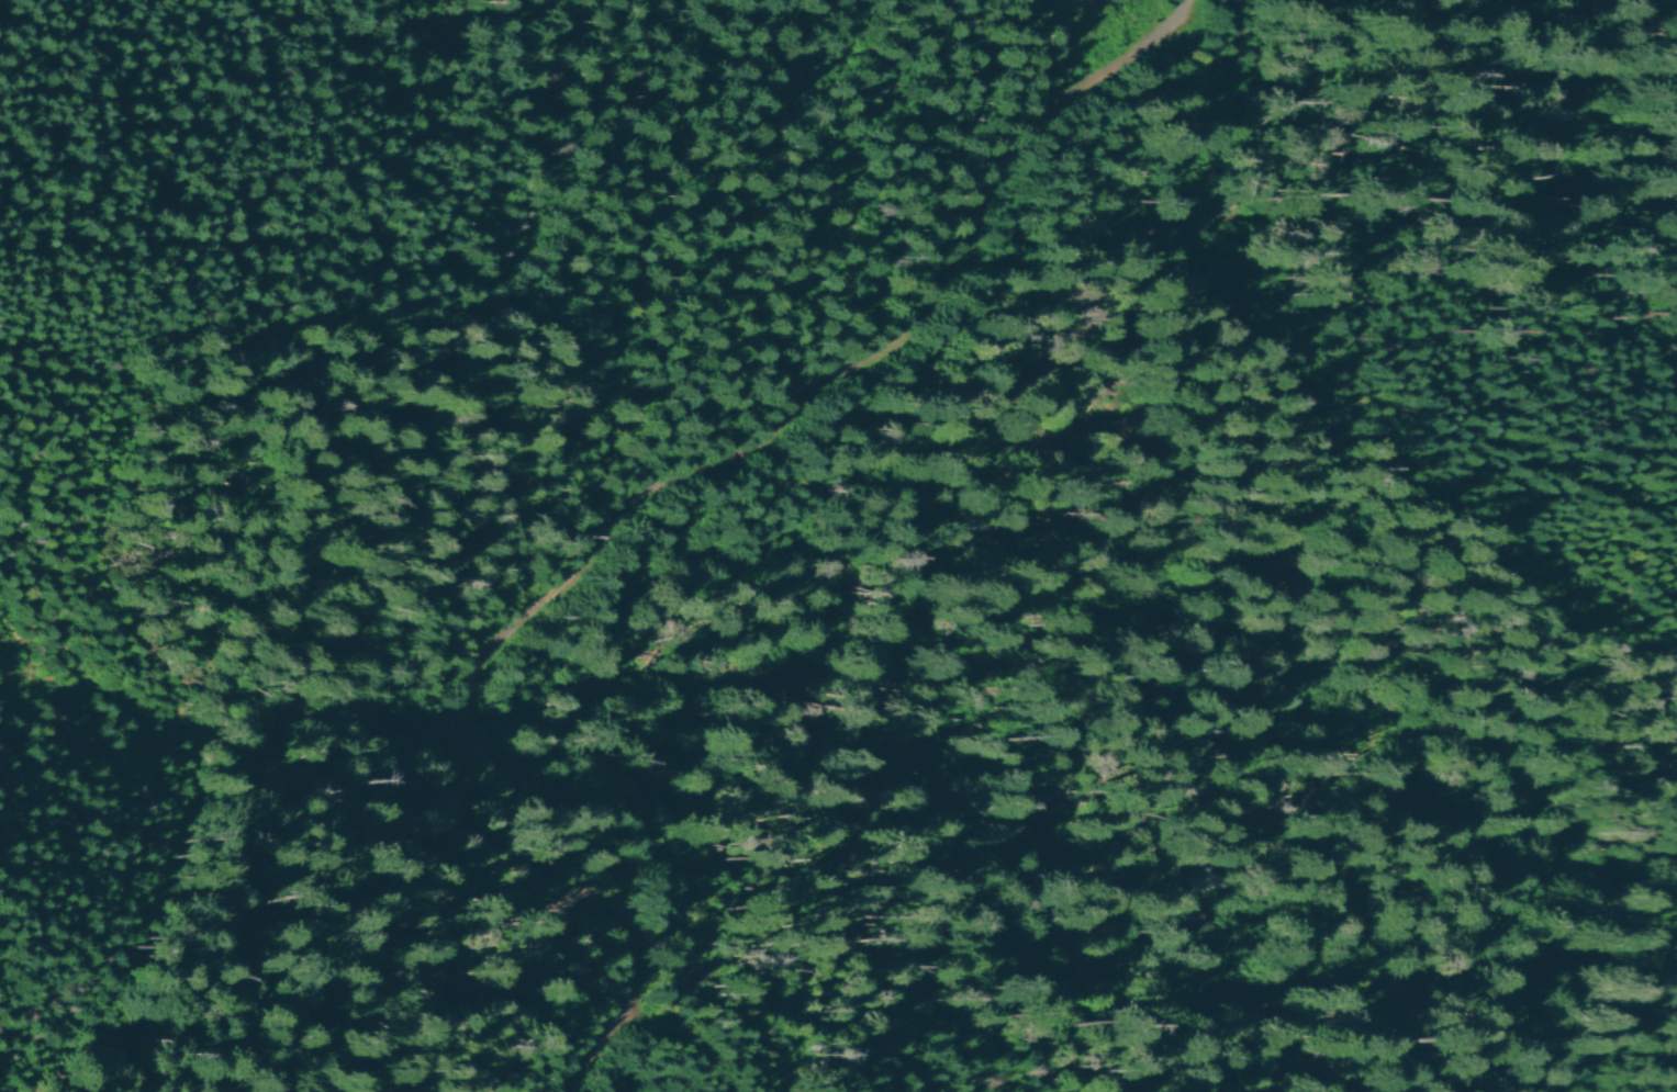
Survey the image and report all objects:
road: (653, 488)

